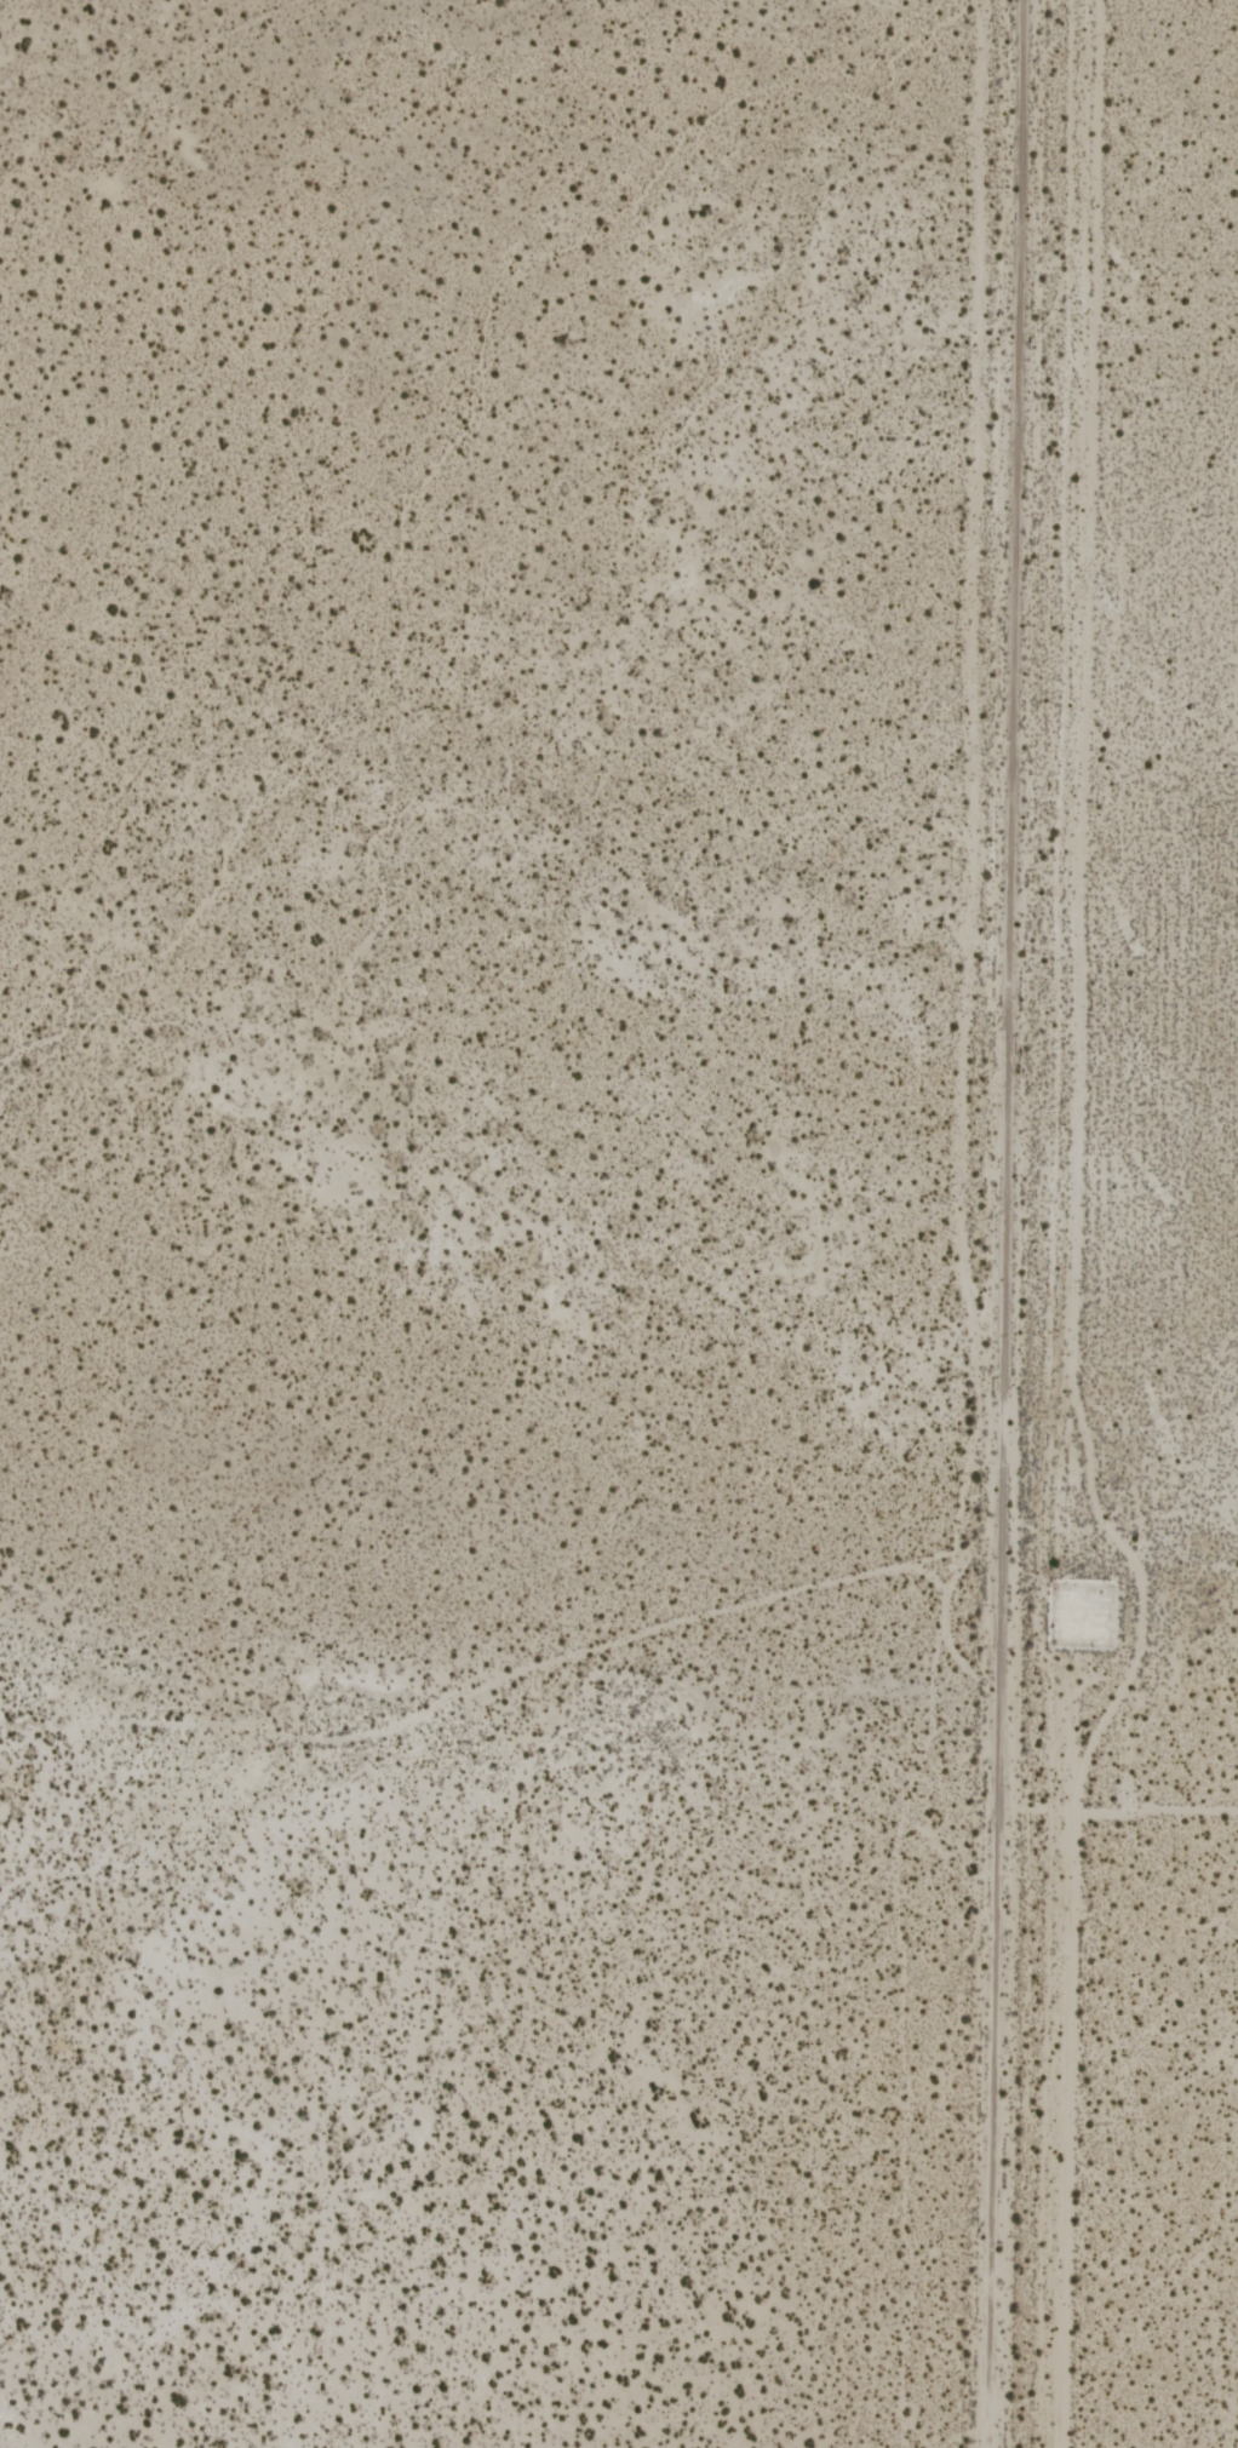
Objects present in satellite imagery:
road: (1007, 1223)
airport: (1174, 1271)

